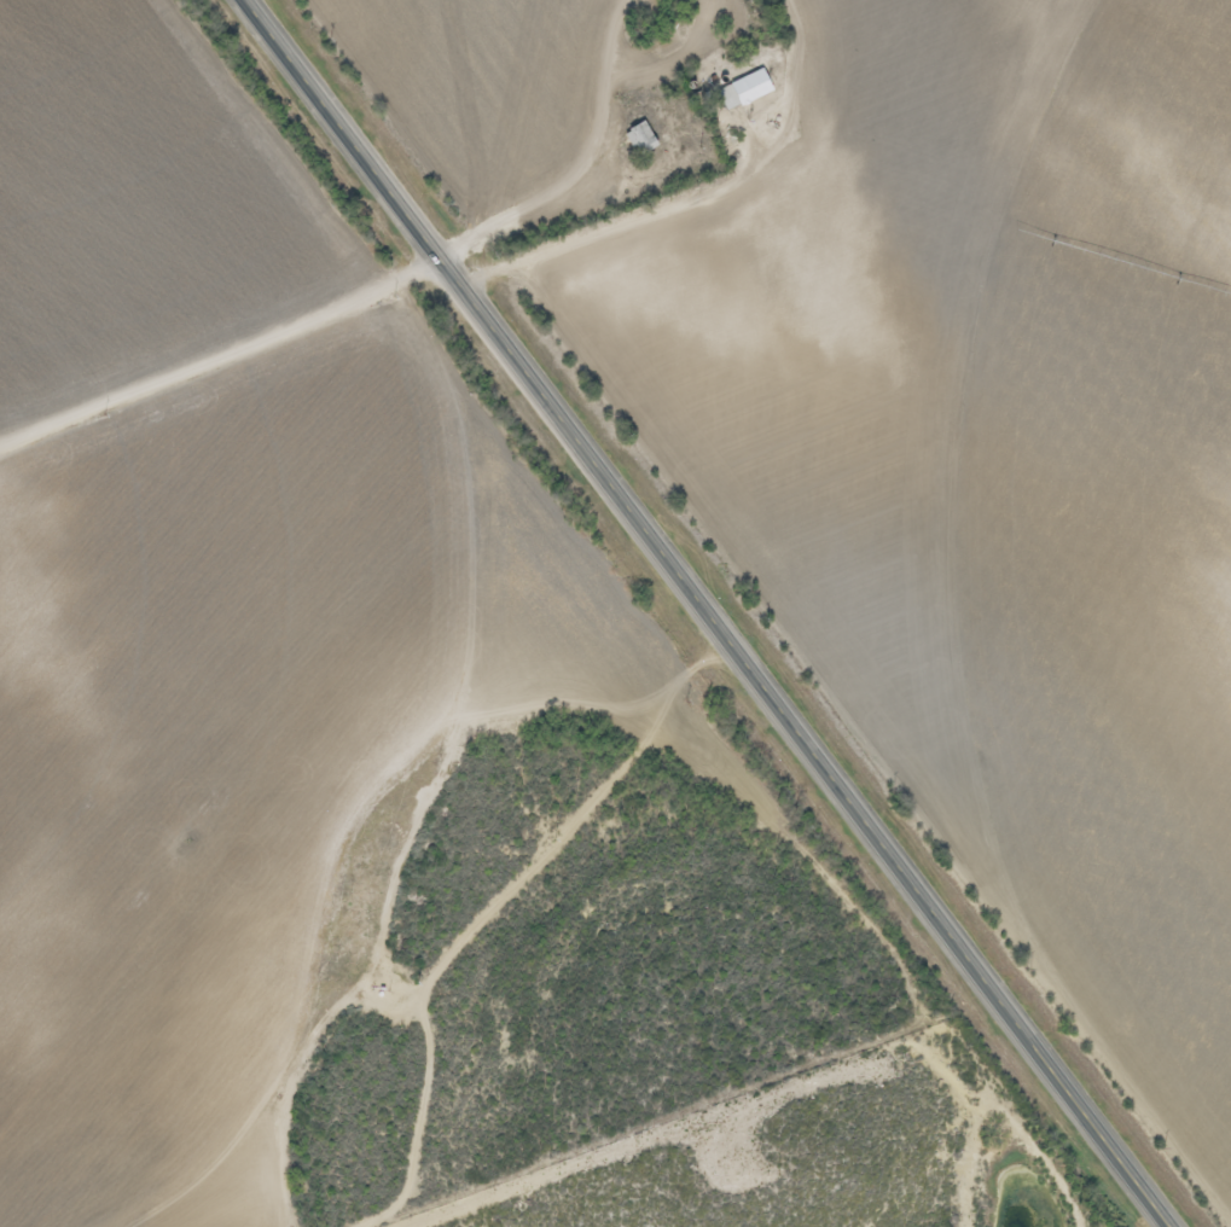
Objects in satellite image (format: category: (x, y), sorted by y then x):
building: (741, 92)
building: (638, 140)
road: (223, 355)
railway: (767, 605)
road: (710, 612)

